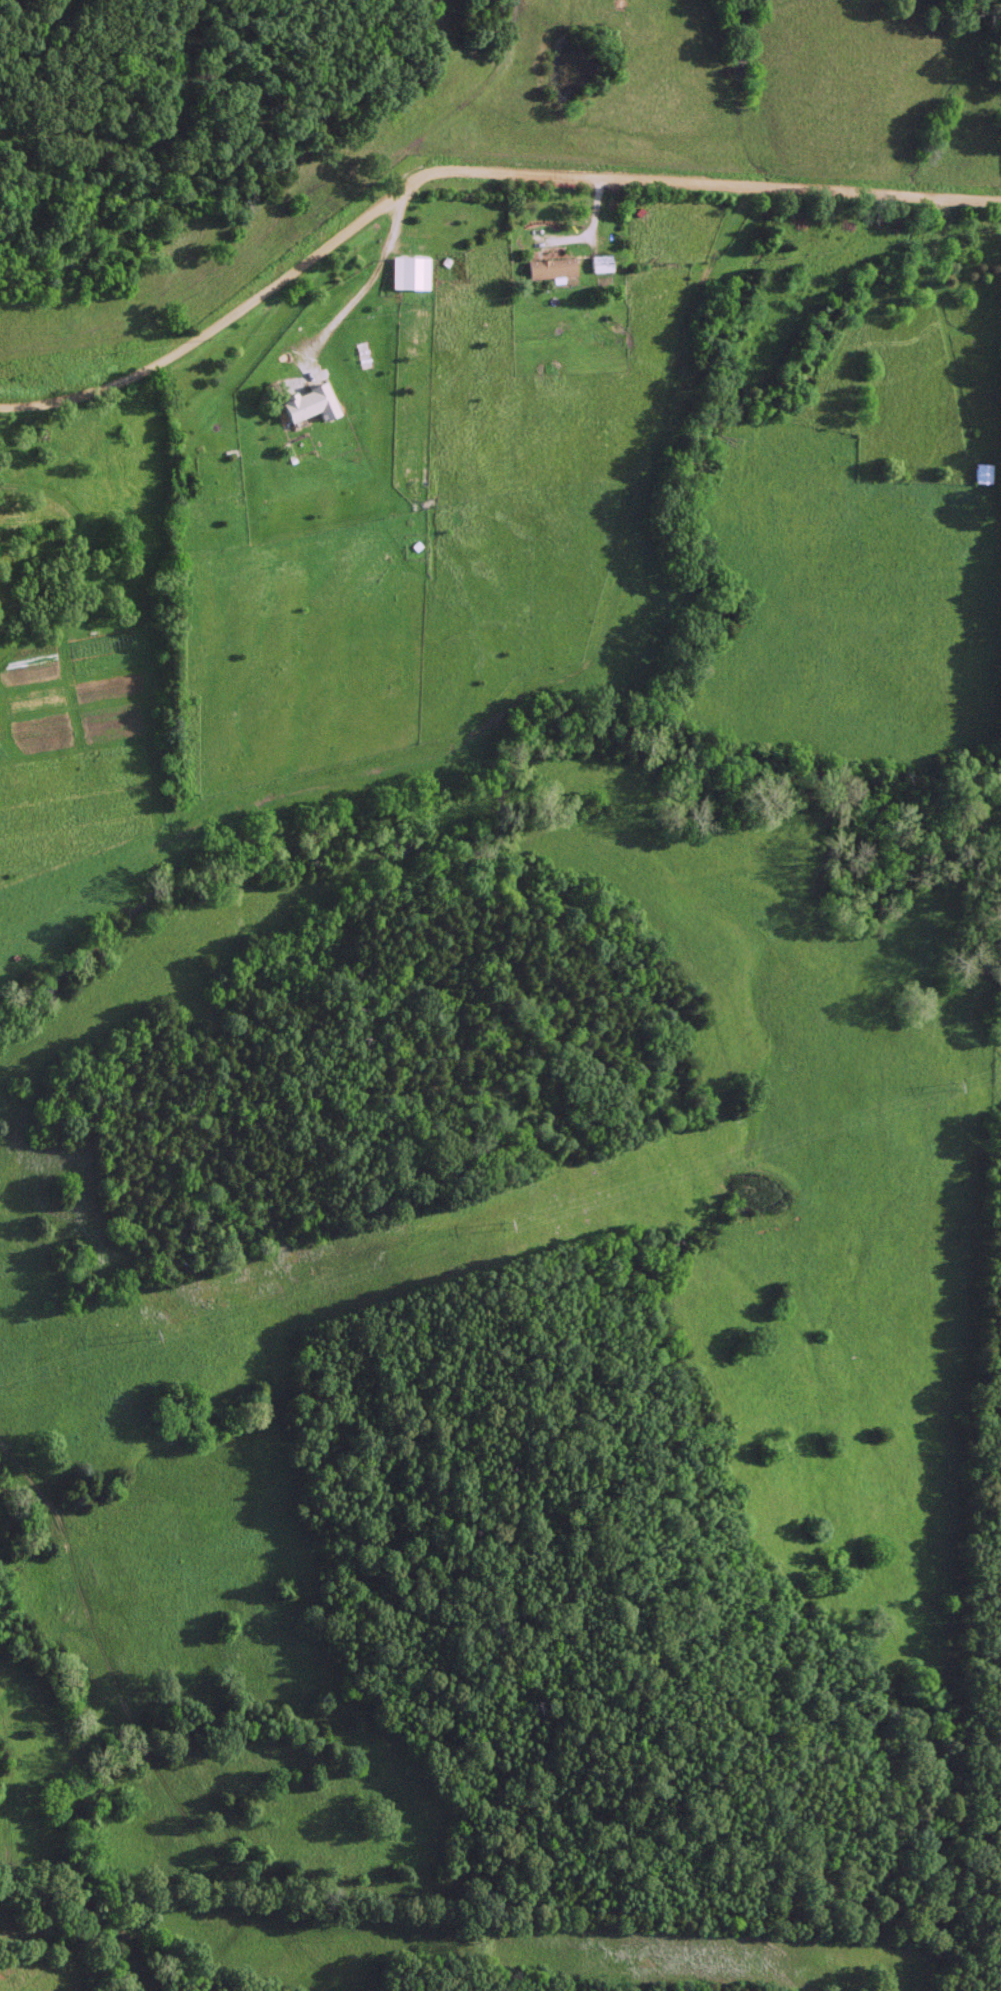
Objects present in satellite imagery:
road: (465, 170)
building: (602, 263)
building: (552, 268)
road: (366, 285)
building: (311, 404)
building: (984, 473)
power tower: (947, 1077)
power tower: (497, 1219)
power tower: (145, 1326)

